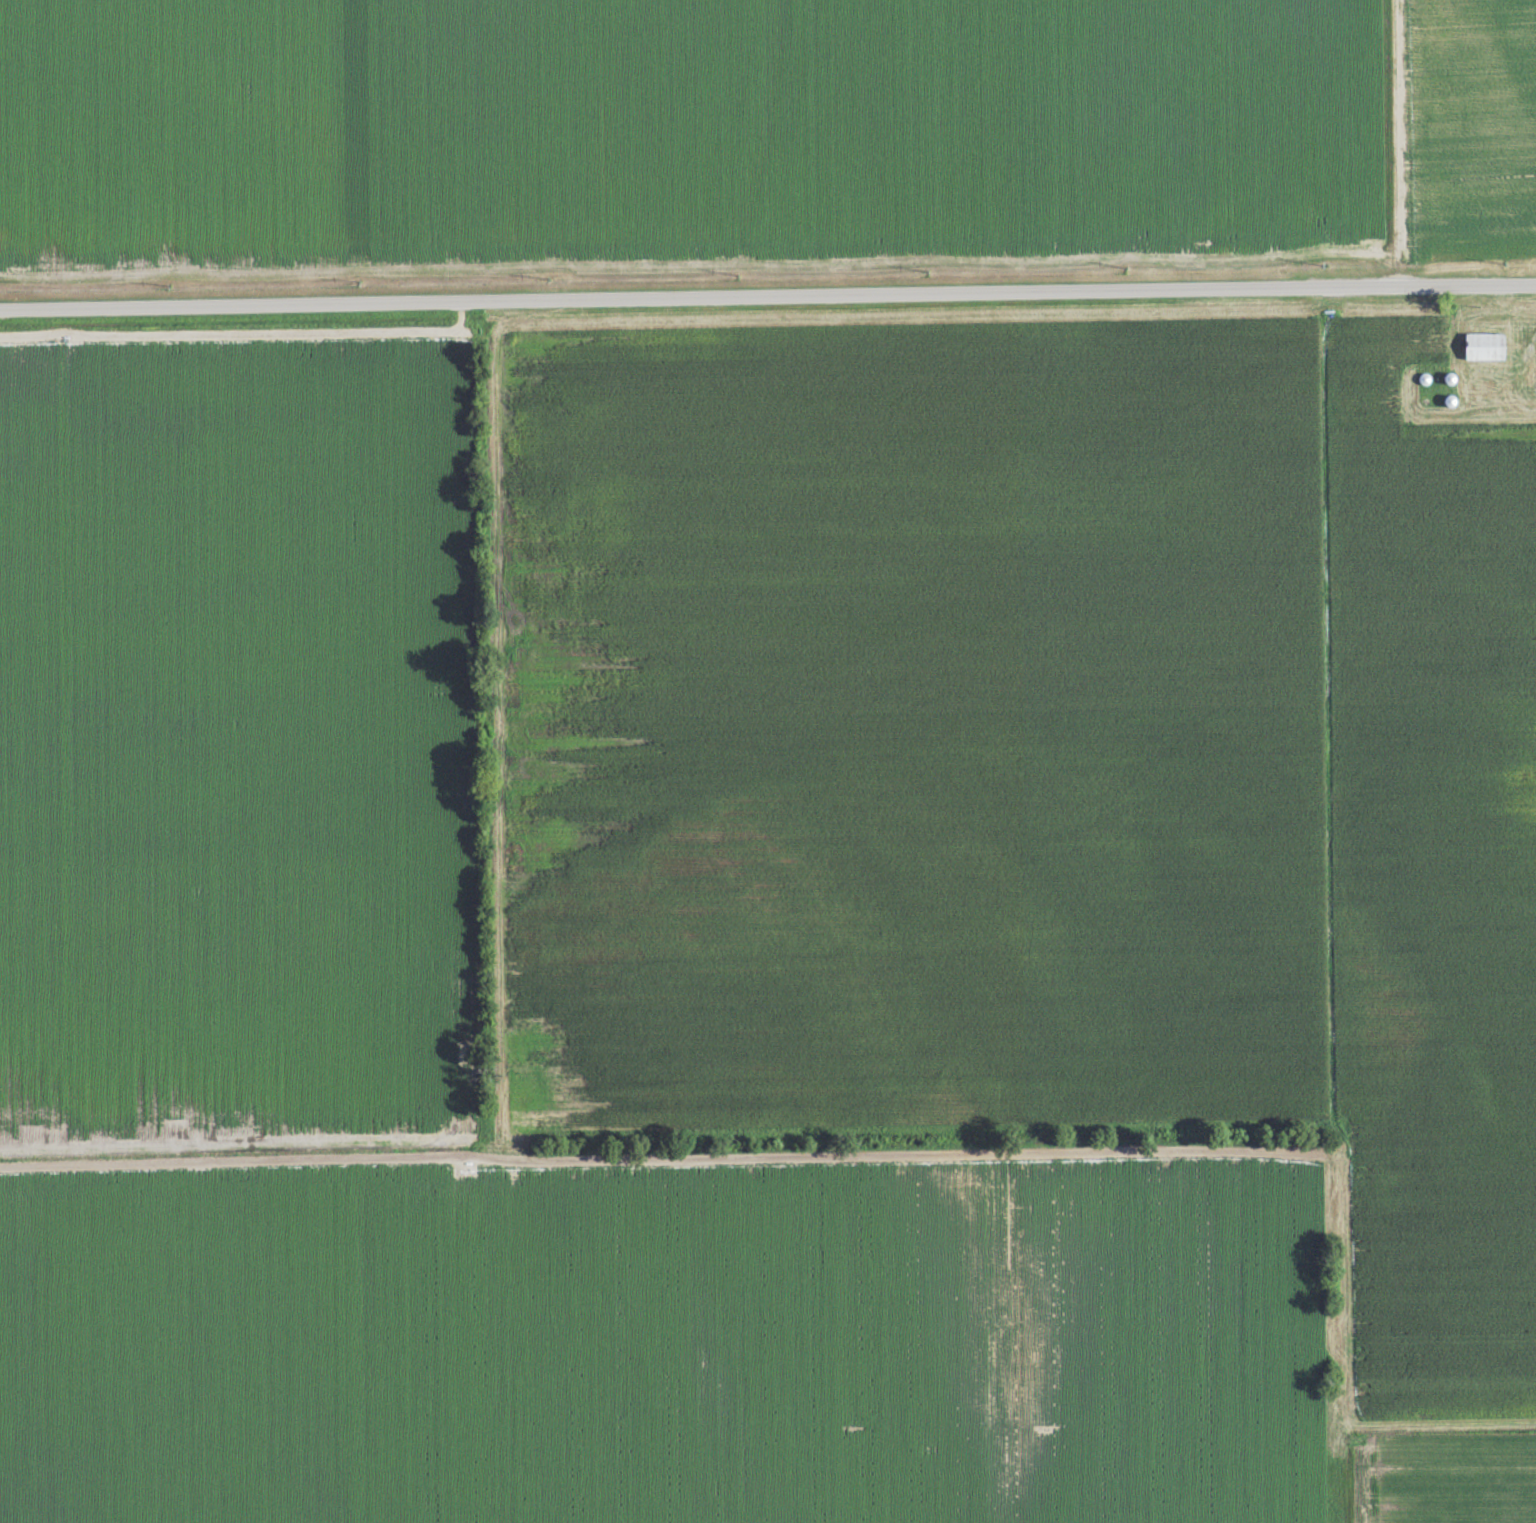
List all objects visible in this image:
road: (767, 293)
building: (1488, 348)

